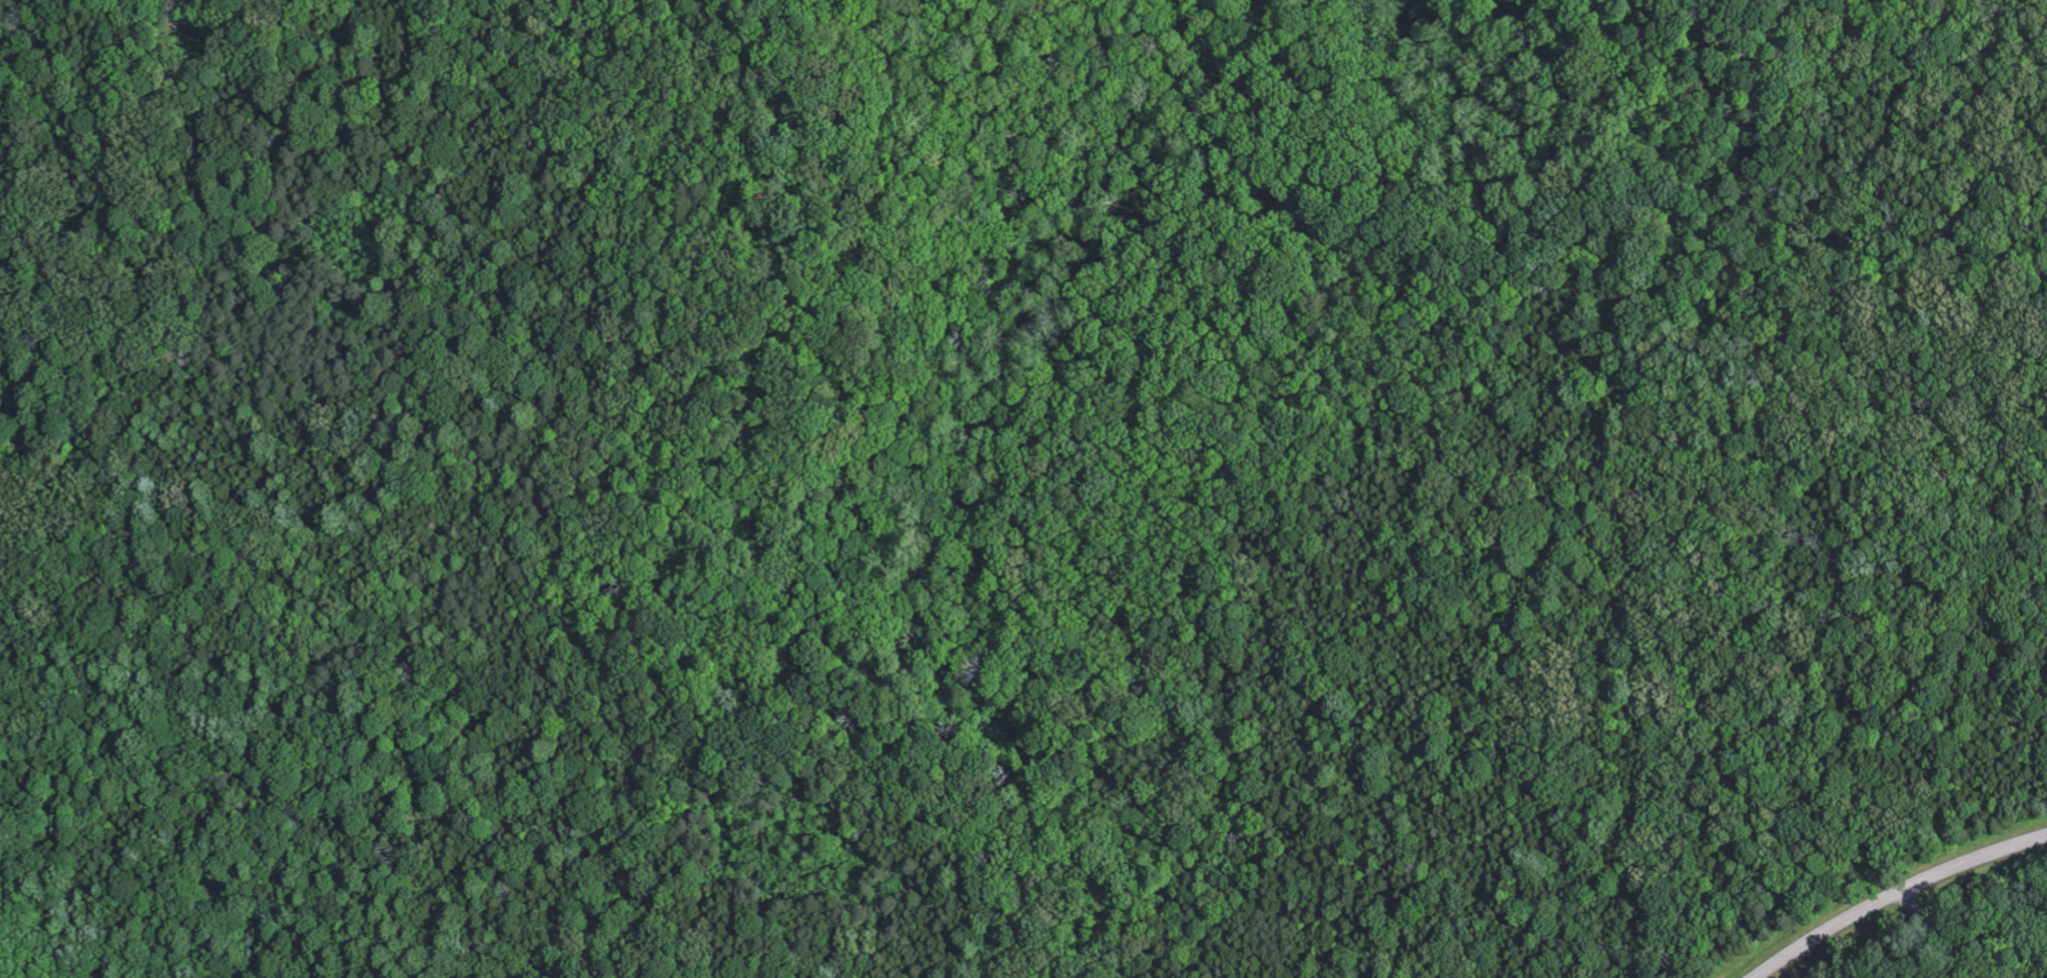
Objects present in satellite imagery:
road: (2007, 882)
road: (1904, 897)

